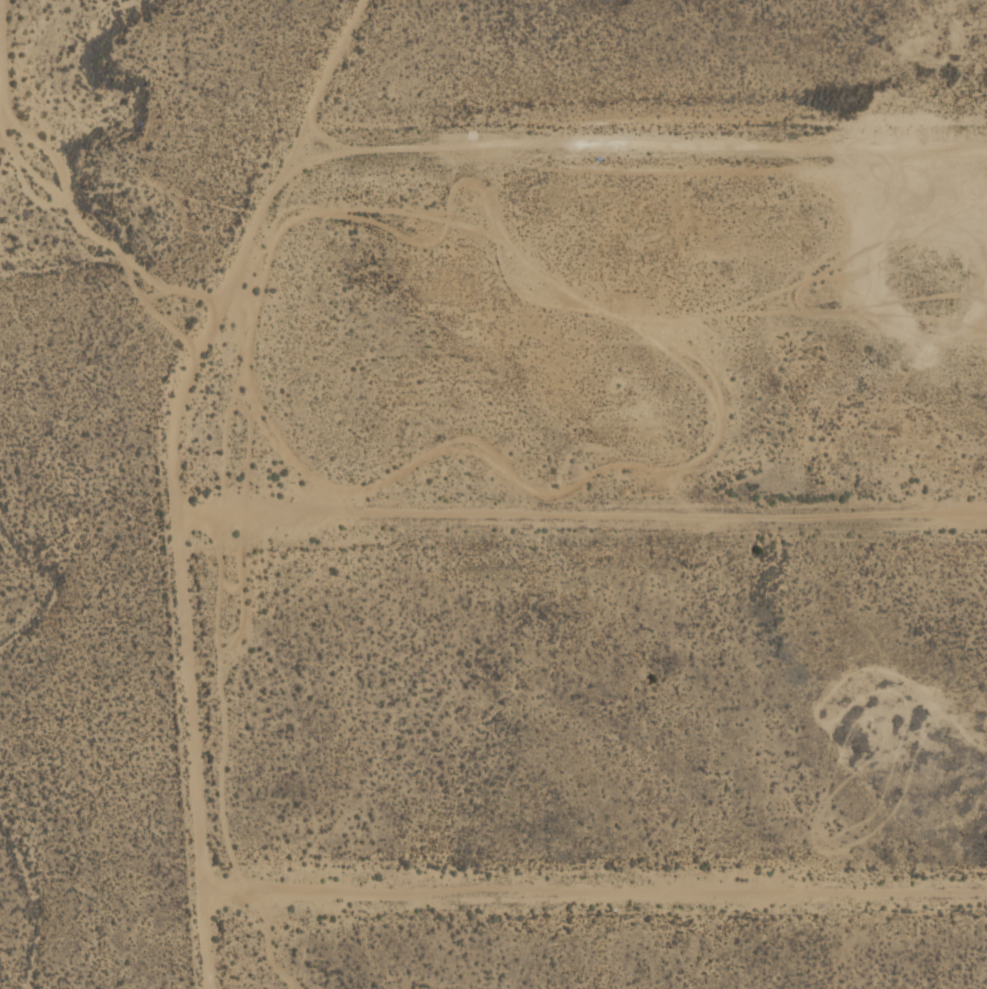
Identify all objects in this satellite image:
road: (176, 473)

